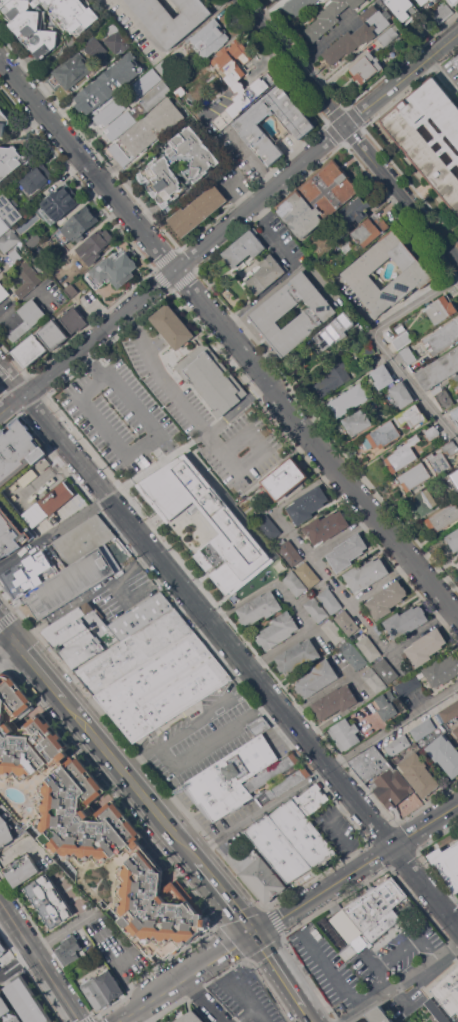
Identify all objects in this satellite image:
building: (272, 0)
building: (423, 1)
building: (455, 1)
building: (298, 6)
building: (404, 7)
building: (443, 12)
building: (172, 17)
building: (329, 18)
building: (424, 26)
building: (32, 30)
building: (391, 34)
building: (359, 35)
building: (211, 38)
building: (116, 39)
road: (325, 39)
building: (96, 48)
building: (456, 60)
building: (368, 67)
building: (166, 70)
building: (70, 71)
road: (444, 76)
building: (239, 80)
building: (147, 81)
building: (109, 82)
building: (156, 95)
building: (109, 112)
building: (3, 123)
building: (250, 124)
building: (121, 125)
road: (349, 129)
building: (146, 131)
building: (418, 143)
building: (10, 160)
road: (255, 160)
building: (157, 169)
building: (36, 177)
building: (319, 198)
building: (60, 202)
building: (9, 209)
building: (359, 209)
building: (198, 210)
road: (135, 223)
building: (77, 225)
building: (3, 226)
road: (230, 227)
building: (371, 230)
building: (9, 240)
building: (95, 245)
building: (244, 248)
road: (286, 249)
building: (1, 268)
building: (115, 269)
building: (359, 272)
building: (266, 274)
building: (28, 278)
building: (3, 292)
building: (443, 308)
building: (318, 313)
building: (23, 319)
building: (74, 320)
building: (172, 326)
building: (54, 333)
building: (333, 333)
building: (443, 337)
building: (404, 340)
road: (386, 348)
building: (368, 349)
building: (31, 350)
building: (409, 355)
road: (91, 361)
building: (440, 370)
road: (160, 376)
building: (383, 376)
building: (212, 378)
building: (333, 379)
building: (457, 379)
road: (12, 380)
road: (85, 387)
building: (403, 394)
building: (349, 399)
building: (446, 399)
road: (237, 407)
building: (456, 414)
building: (414, 416)
road: (46, 420)
building: (357, 421)
building: (433, 432)
building: (384, 434)
road: (201, 437)
building: (451, 448)
building: (18, 451)
road: (155, 451)
building: (404, 454)
building: (440, 461)
building: (43, 463)
road: (159, 463)
road: (230, 465)
building: (28, 476)
building: (415, 476)
building: (285, 478)
building: (453, 478)
road: (116, 492)
building: (57, 497)
road: (364, 499)
building: (424, 501)
building: (308, 505)
building: (444, 518)
building: (327, 526)
building: (269, 527)
building: (232, 528)
building: (11, 534)
road: (54, 534)
road: (343, 534)
building: (453, 539)
building: (290, 552)
building: (347, 552)
building: (128, 561)
building: (77, 567)
road: (127, 572)
building: (366, 573)
building: (29, 574)
building: (308, 574)
road: (381, 581)
building: (295, 583)
building: (387, 599)
building: (330, 600)
road: (295, 603)
road: (349, 603)
building: (260, 607)
building: (316, 609)
building: (406, 621)
building: (347, 622)
road: (421, 628)
building: (101, 630)
building: (278, 630)
building: (334, 631)
road: (7, 632)
road: (7, 647)
building: (368, 647)
building: (426, 647)
building: (135, 652)
building: (353, 655)
building: (298, 656)
building: (387, 670)
building: (442, 670)
road: (39, 671)
building: (317, 678)
building: (375, 681)
road: (263, 683)
building: (409, 685)
building: (164, 687)
building: (335, 702)
building: (387, 704)
building: (450, 711)
road: (191, 721)
building: (260, 726)
building: (423, 729)
building: (456, 730)
road: (222, 732)
building: (346, 734)
building: (457, 738)
building: (398, 745)
road: (148, 749)
building: (445, 754)
road: (324, 771)
building: (419, 774)
building: (382, 776)
road: (127, 778)
building: (278, 778)
building: (230, 779)
building: (312, 799)
building: (8, 827)
building: (89, 830)
road: (334, 830)
building: (303, 833)
building: (279, 848)
road: (15, 851)
building: (448, 863)
building: (22, 869)
building: (259, 874)
road: (222, 895)
building: (49, 901)
building: (336, 908)
road: (287, 913)
building: (369, 914)
traffic signals: (252, 935)
road: (47, 941)
building: (2, 947)
building: (70, 949)
building: (83, 952)
road: (40, 960)
road: (331, 971)
road: (279, 974)
building: (110, 985)
road: (402, 985)
building: (449, 991)
road: (239, 992)
building: (95, 994)
building: (28, 1000)
road: (203, 1000)
building: (7, 1010)
building: (437, 1010)
road: (244, 1015)
road: (259, 1015)
building: (380, 1015)
building: (191, 1018)
road: (308, 1018)
building: (456, 1020)

